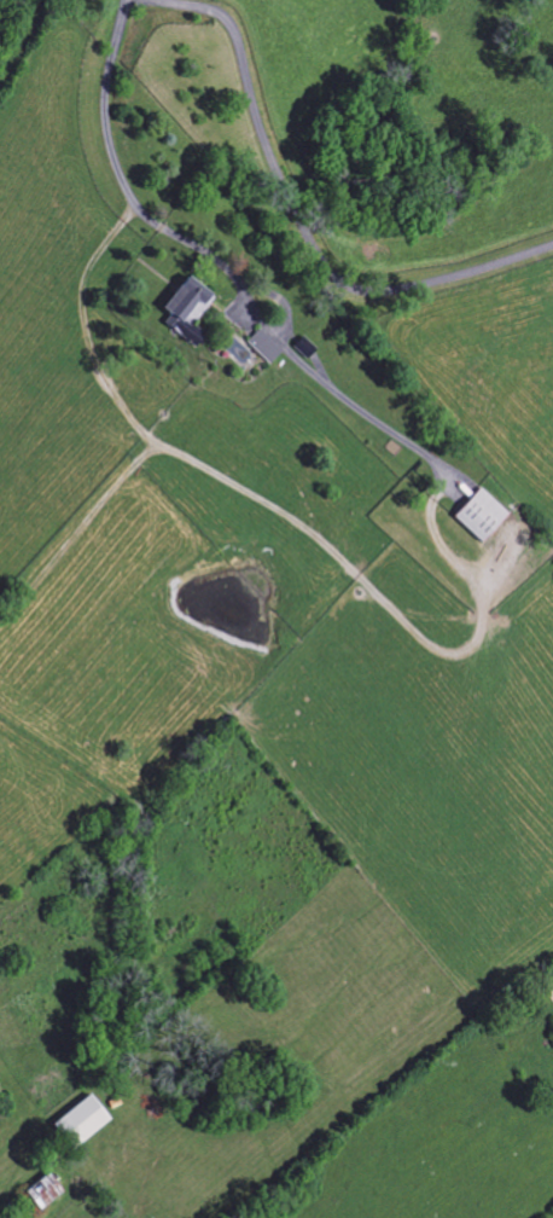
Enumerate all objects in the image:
road: (106, 103)
road: (299, 221)
building: (185, 311)
road: (275, 338)
building: (263, 347)
building: (479, 515)
building: (80, 1121)
building: (42, 1191)

